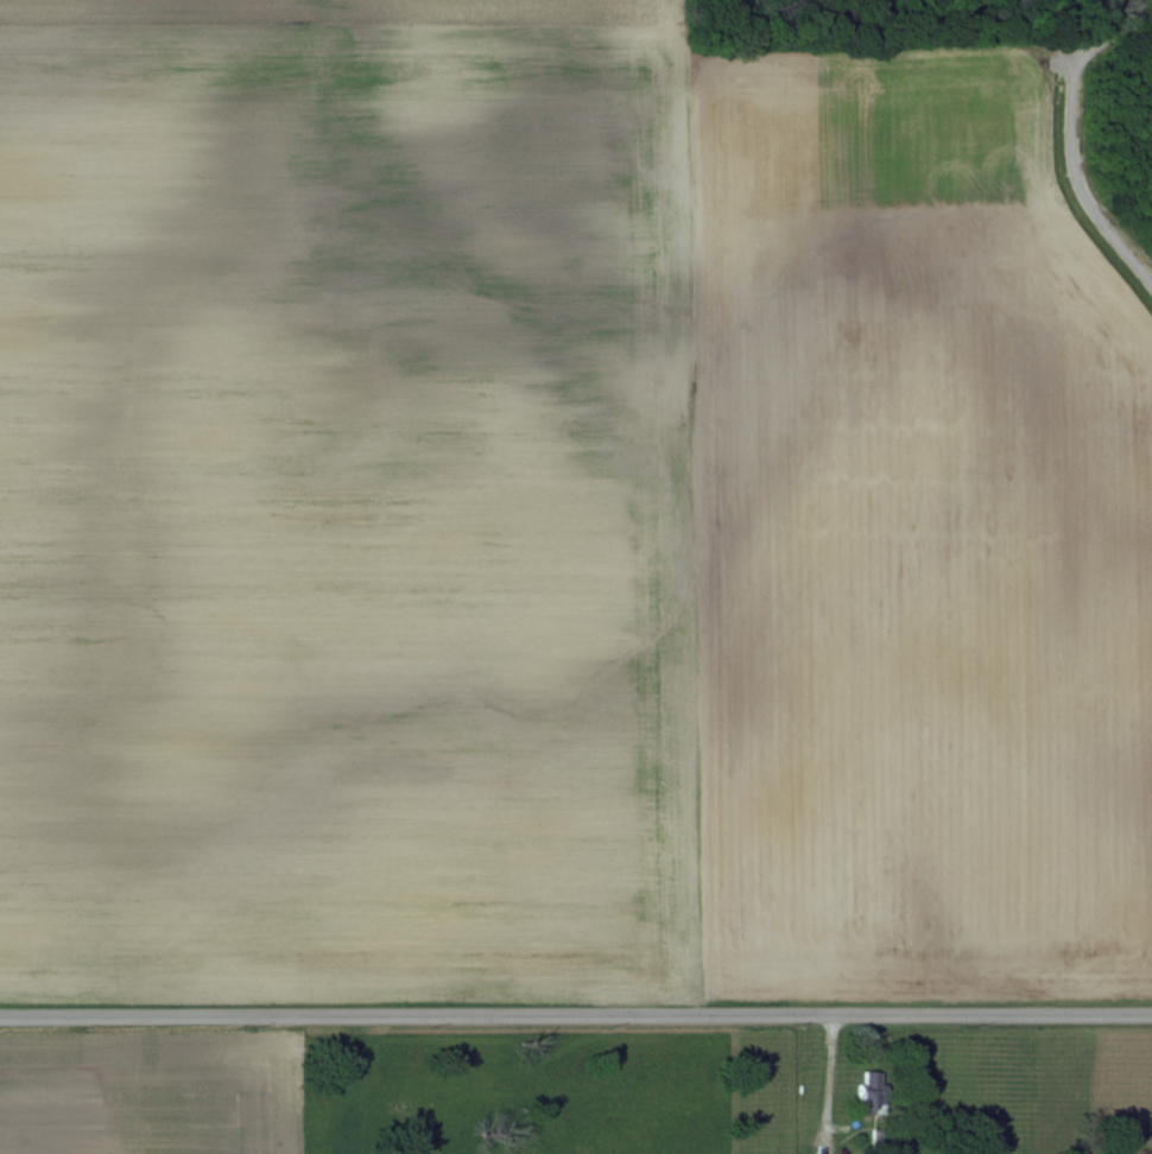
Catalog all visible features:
road: (575, 1016)
road: (825, 1077)
building: (871, 1090)

